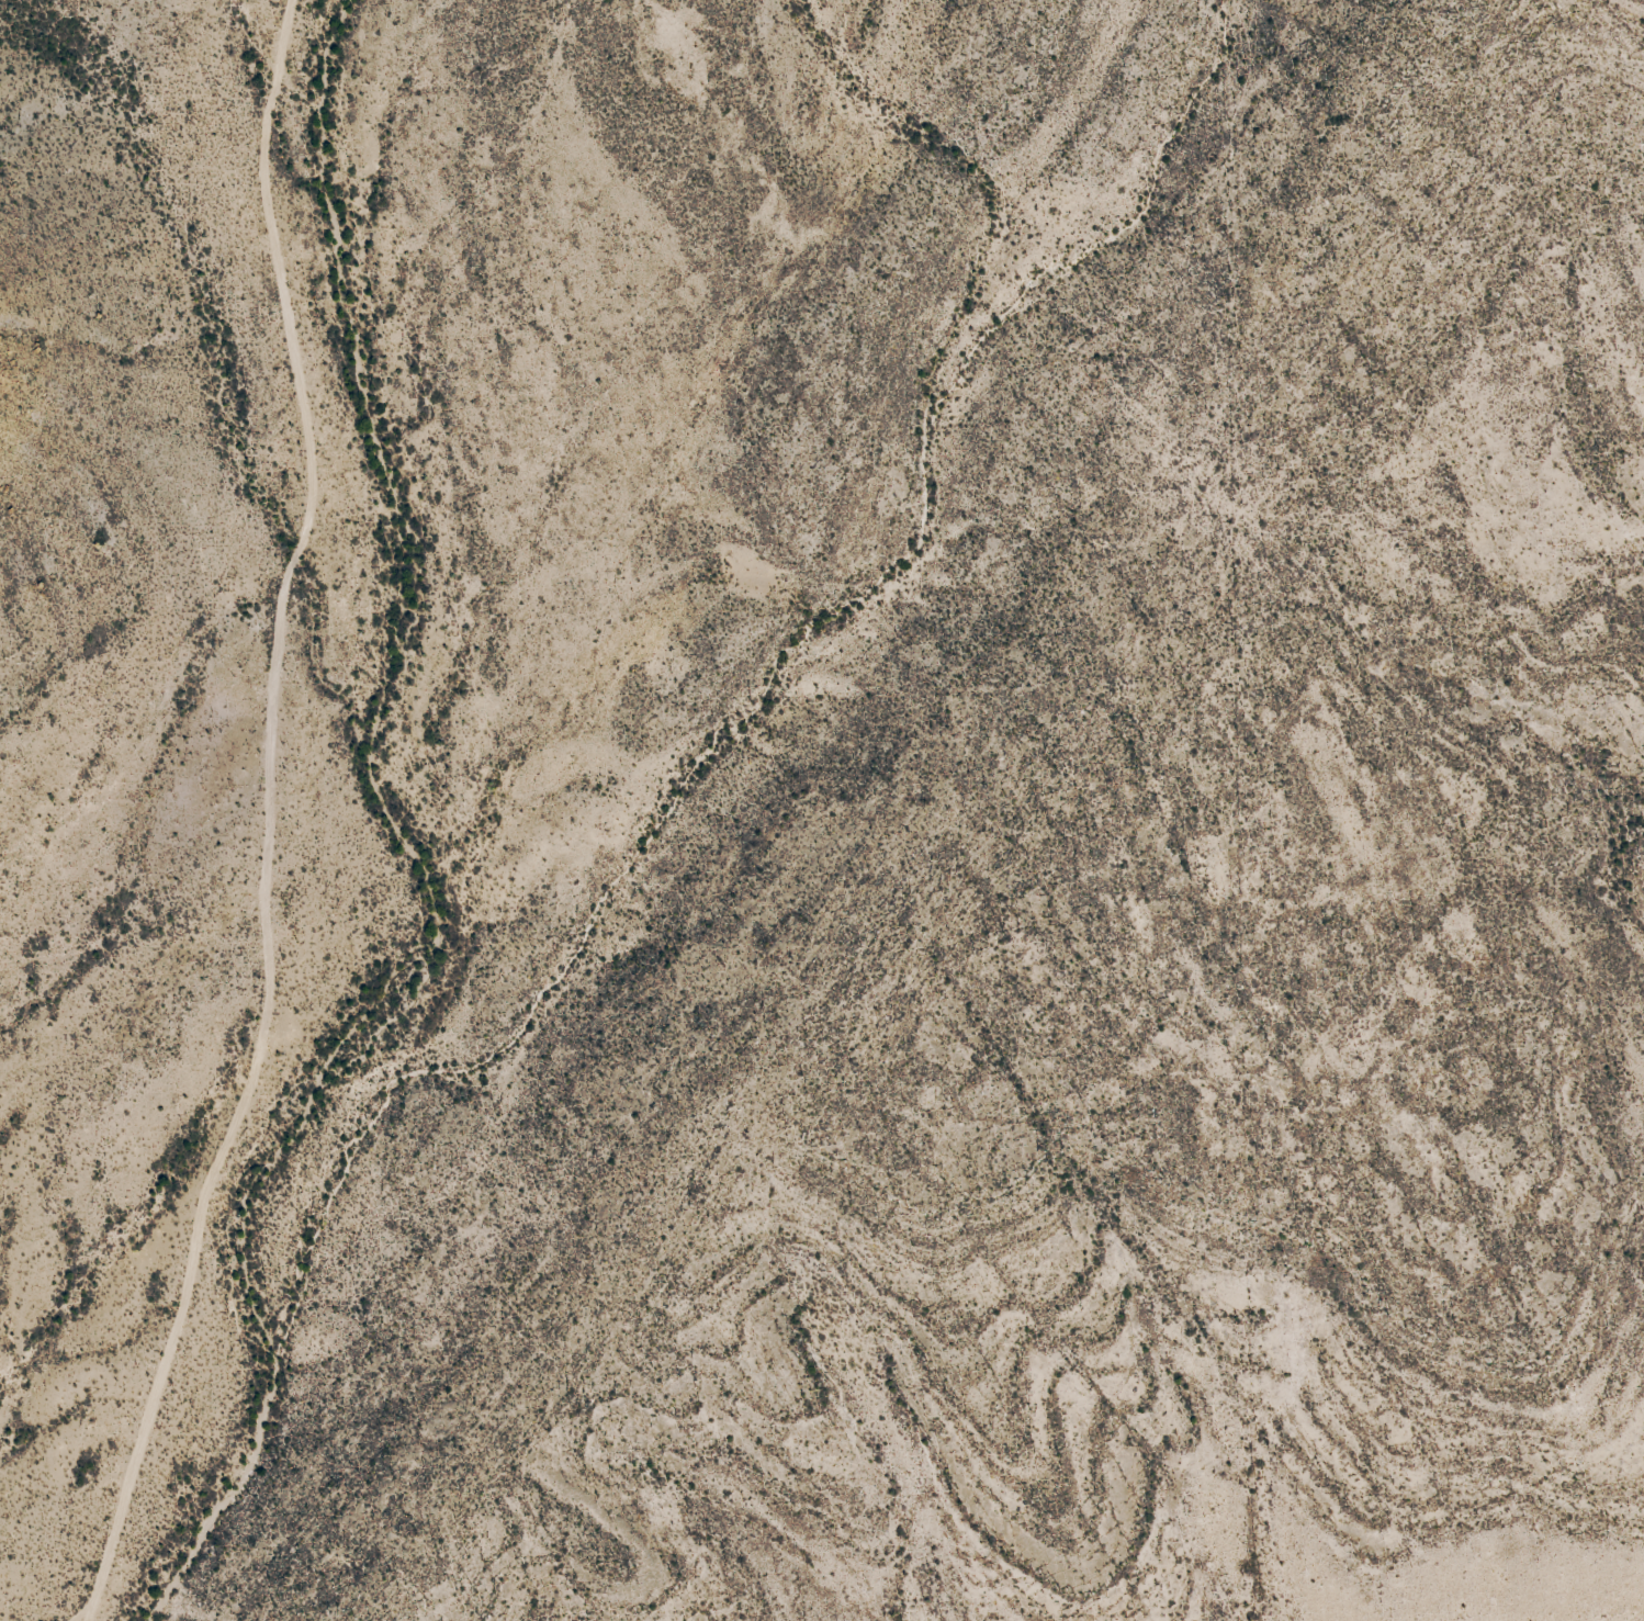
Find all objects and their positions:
road: (297, 822)

